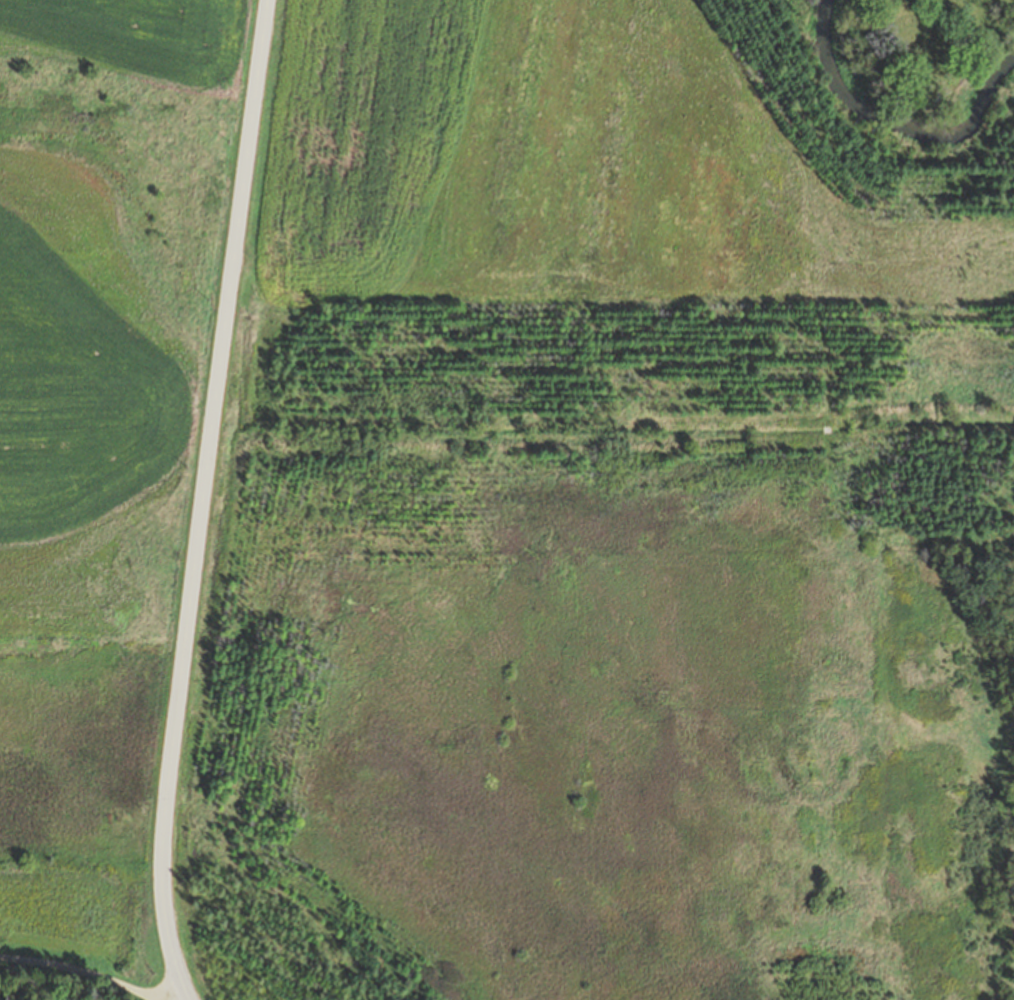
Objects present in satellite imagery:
river: (907, 87)
road: (199, 501)
road: (78, 971)

